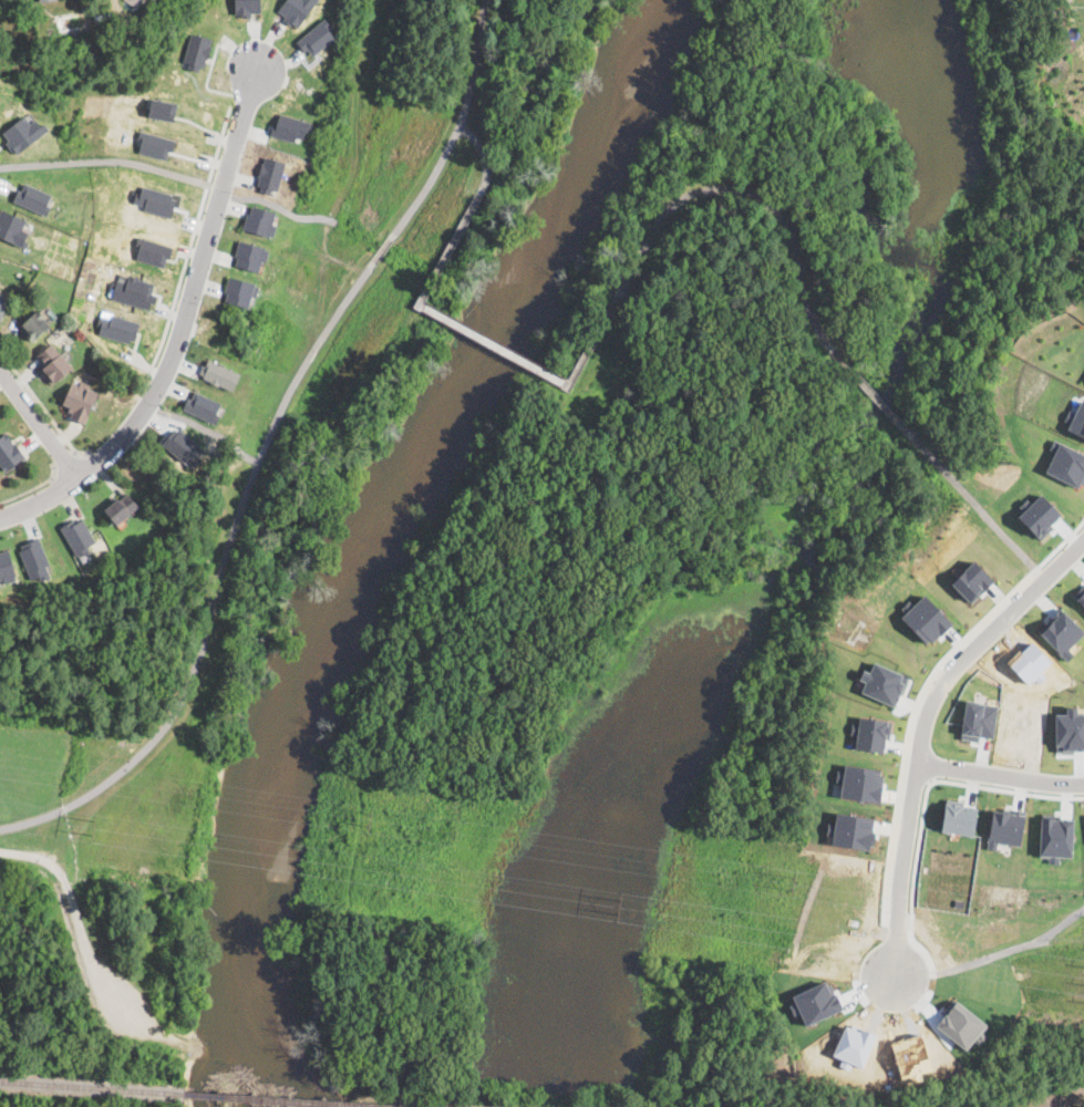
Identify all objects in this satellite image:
building: (43, 0)
building: (135, 2)
building: (246, 7)
building: (295, 9)
building: (316, 37)
building: (196, 50)
building: (162, 107)
building: (289, 126)
building: (22, 131)
building: (154, 144)
road: (484, 156)
road: (104, 159)
building: (270, 174)
road: (744, 192)
building: (33, 197)
building: (154, 199)
building: (260, 219)
building: (13, 226)
park: (417, 237)
road: (190, 239)
building: (152, 250)
building: (249, 255)
building: (133, 290)
building: (238, 290)
building: (2, 306)
building: (34, 325)
building: (117, 325)
road: (180, 330)
road: (477, 332)
building: (53, 364)
building: (218, 373)
road: (866, 391)
building: (81, 400)
building: (202, 405)
road: (43, 407)
building: (1077, 418)
road: (39, 425)
road: (266, 442)
building: (182, 446)
building: (9, 453)
road: (65, 462)
building: (1067, 464)
road: (32, 485)
road: (970, 501)
building: (122, 508)
building: (1039, 515)
building: (78, 535)
river: (402, 536)
building: (35, 558)
building: (6, 566)
building: (971, 580)
building: (1081, 596)
building: (926, 618)
road: (910, 722)
road: (923, 727)
building: (870, 733)
road: (1000, 774)
building: (958, 817)
power tower: (365, 819)
road: (920, 824)
power tower: (92, 826)
building: (1004, 827)
building: (1055, 835)
park: (109, 857)
power tower: (789, 881)
road: (68, 899)
power tower: (615, 906)
road: (911, 938)
road: (1011, 949)
road: (134, 1016)
road: (124, 1046)

